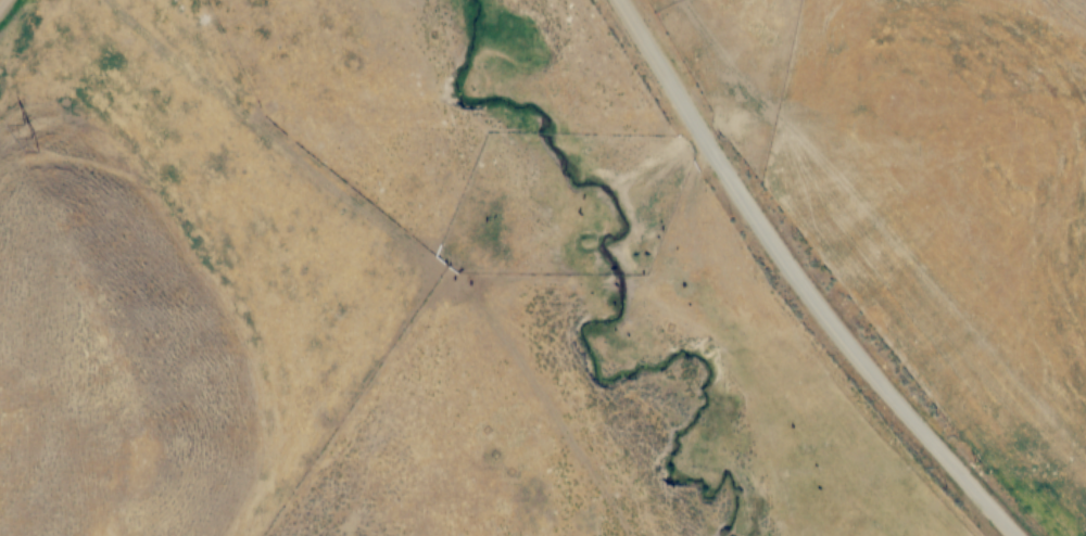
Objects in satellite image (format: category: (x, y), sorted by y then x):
road: (2, 3)
power tower: (30, 139)
road: (798, 282)

